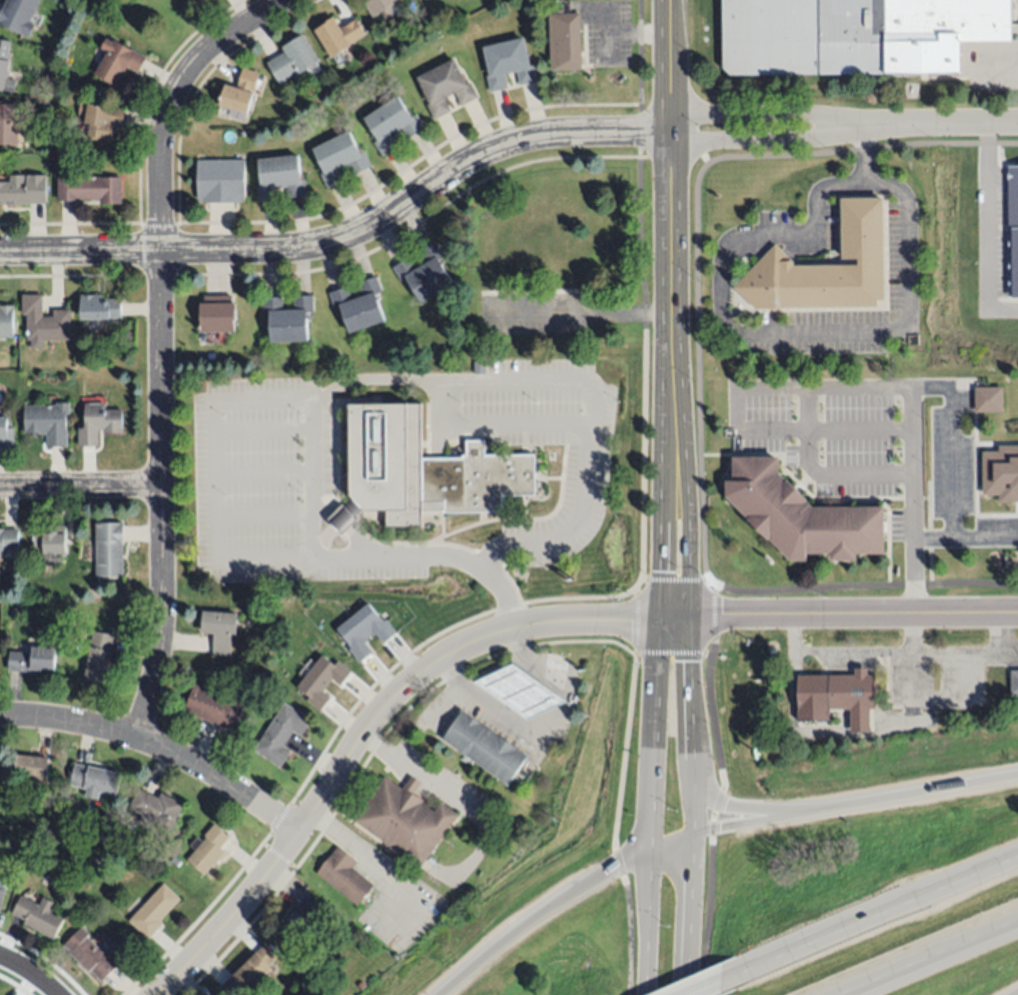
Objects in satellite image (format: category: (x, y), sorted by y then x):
building: (194, 1)
building: (377, 5)
building: (18, 13)
building: (1014, 20)
park: (143, 25)
building: (857, 34)
building: (337, 35)
building: (564, 42)
building: (64, 43)
building: (119, 60)
building: (291, 60)
building: (507, 64)
building: (5, 67)
building: (47, 81)
building: (444, 87)
building: (239, 92)
building: (103, 121)
building: (8, 124)
building: (391, 125)
road: (845, 127)
building: (338, 159)
road: (671, 169)
building: (278, 177)
building: (220, 181)
building: (89, 189)
building: (23, 190)
building: (1012, 198)
road: (986, 228)
road: (348, 236)
building: (515, 253)
building: (824, 266)
building: (424, 273)
building: (494, 288)
building: (359, 306)
building: (99, 307)
building: (211, 312)
building: (231, 312)
building: (288, 318)
building: (6, 322)
building: (43, 322)
road: (799, 333)
road: (157, 342)
building: (335, 356)
building: (479, 368)
road: (698, 372)
road: (438, 383)
road: (878, 387)
building: (989, 398)
building: (47, 423)
building: (98, 423)
building: (5, 433)
building: (421, 471)
building: (1001, 472)
road: (80, 486)
road: (642, 499)
road: (915, 499)
building: (802, 516)
road: (966, 539)
building: (8, 540)
building: (54, 540)
building: (109, 549)
road: (690, 563)
road: (662, 596)
building: (15, 610)
road: (839, 613)
traffic signals: (693, 617)
traffic signals: (662, 618)
building: (220, 630)
building: (362, 630)
road: (914, 632)
road: (901, 652)
road: (673, 653)
road: (524, 654)
building: (99, 657)
building: (32, 660)
building: (322, 681)
building: (1013, 681)
road: (519, 689)
building: (520, 689)
road: (466, 691)
road: (427, 692)
building: (853, 697)
building: (214, 707)
road: (338, 728)
road: (364, 733)
building: (280, 734)
building: (484, 745)
road: (159, 746)
building: (30, 769)
road: (421, 775)
building: (95, 780)
road: (723, 791)
road: (904, 796)
building: (156, 808)
road: (741, 809)
road: (696, 812)
building: (404, 818)
road: (743, 824)
road: (673, 845)
building: (207, 849)
road: (359, 852)
building: (16, 855)
building: (174, 859)
building: (344, 876)
building: (2, 889)
building: (153, 911)
road: (537, 913)
building: (38, 916)
road: (692, 916)
road: (256, 917)
building: (300, 918)
road: (881, 918)
road: (648, 923)
building: (90, 955)
road: (931, 957)
building: (251, 972)
road: (30, 973)
building: (361, 985)
road: (722, 985)
road: (1012, 991)

